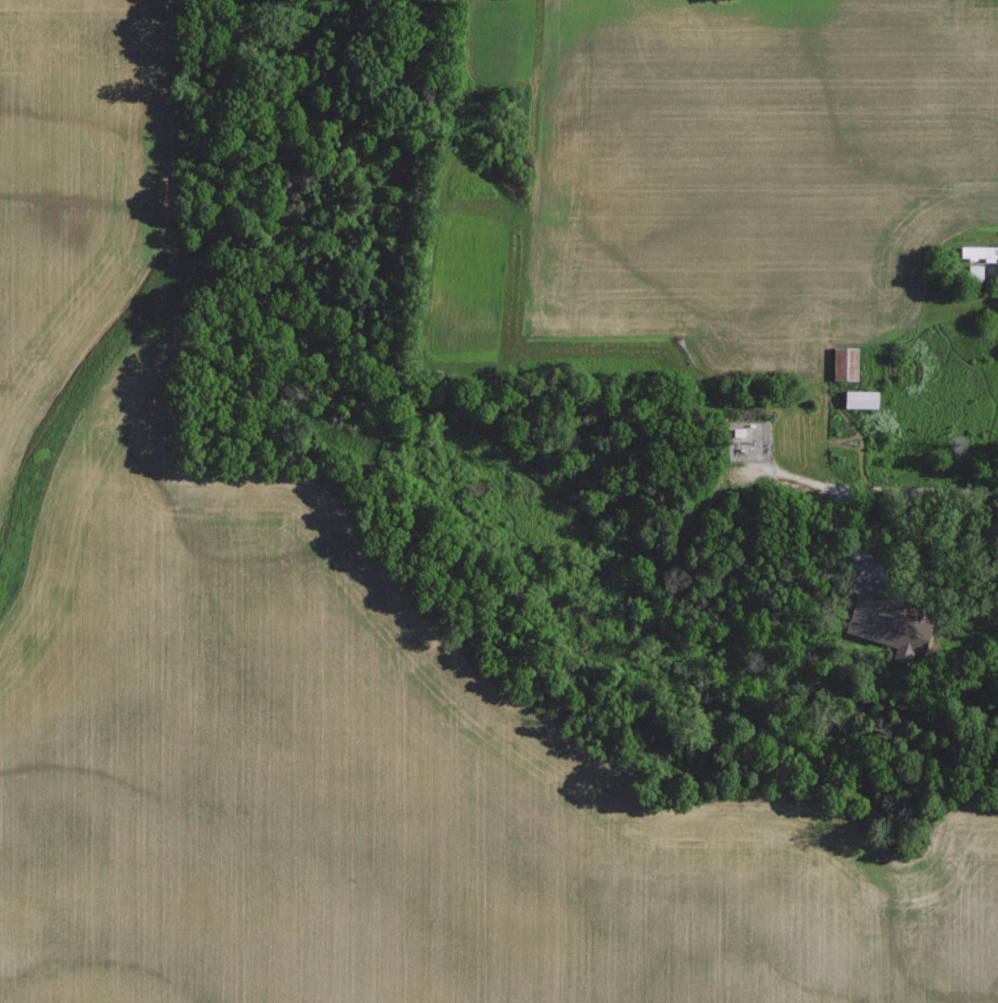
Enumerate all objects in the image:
building: (978, 251)
building: (973, 272)
building: (843, 363)
building: (859, 398)
building: (739, 430)
road: (875, 487)

